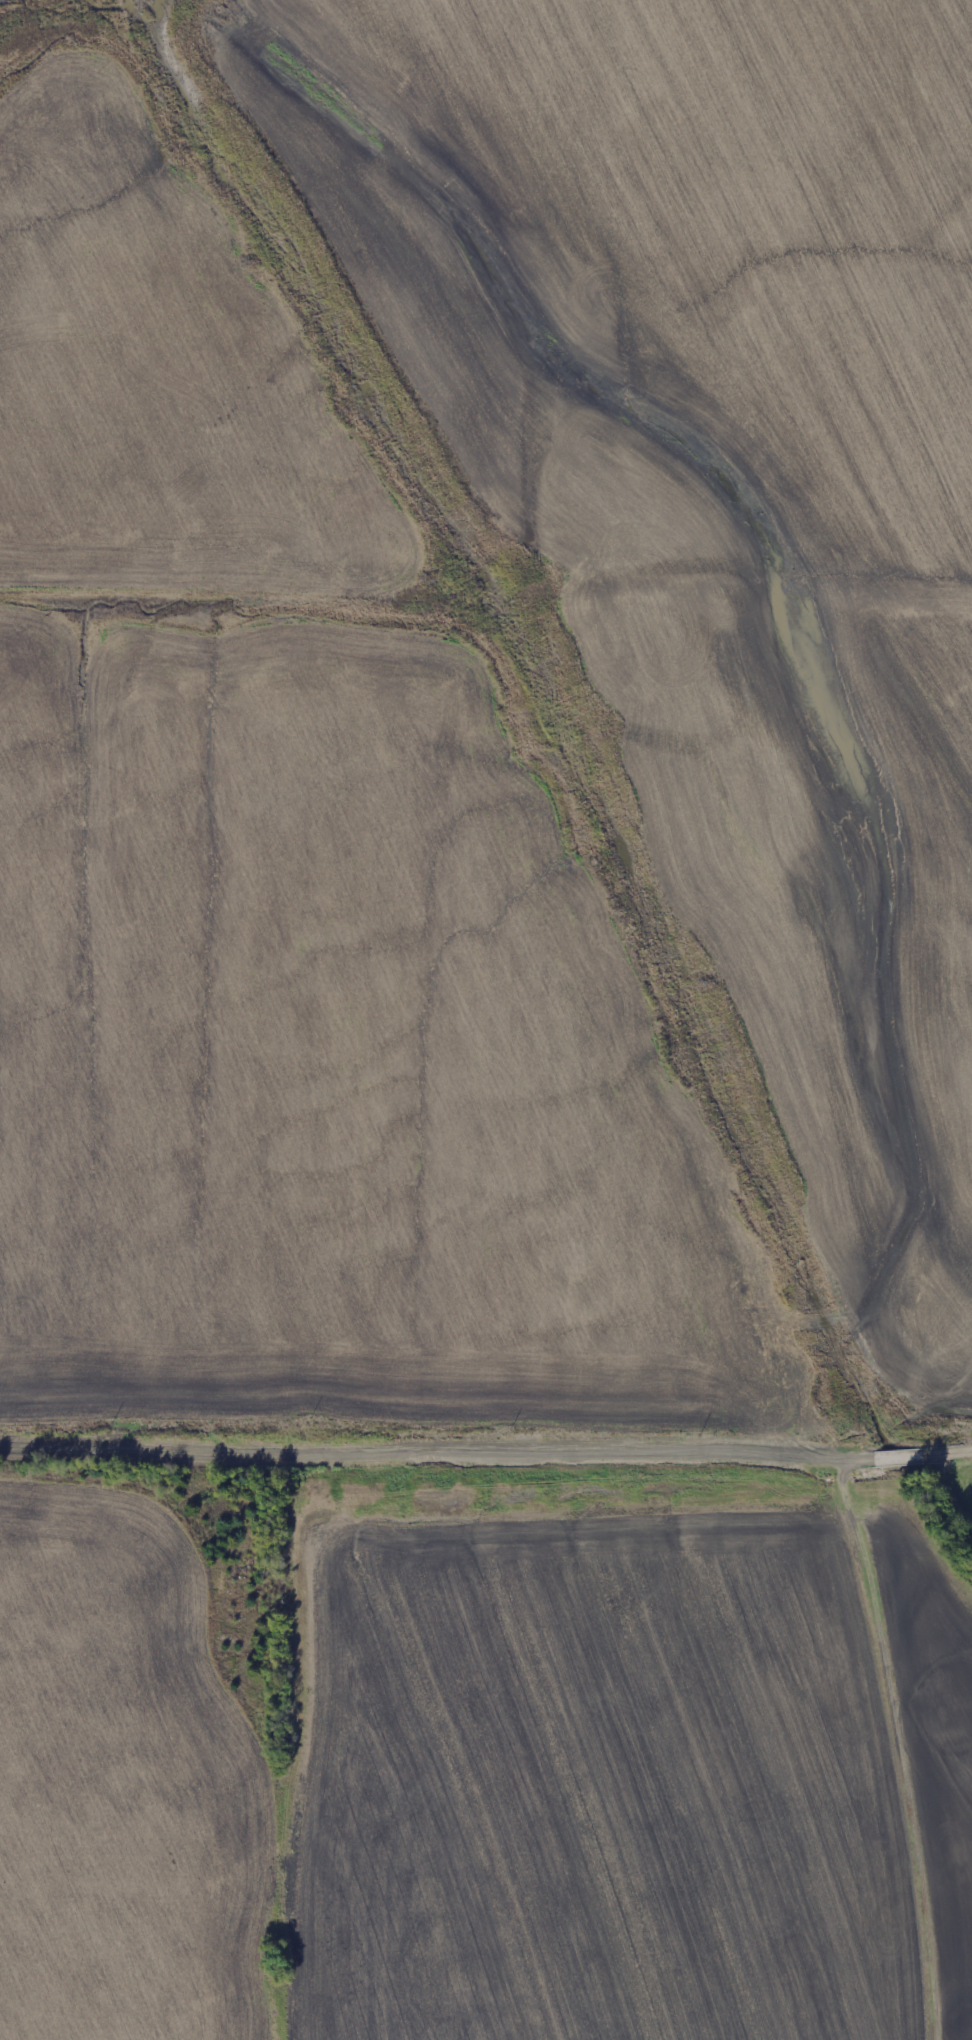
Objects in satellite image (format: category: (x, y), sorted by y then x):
road: (485, 1454)

